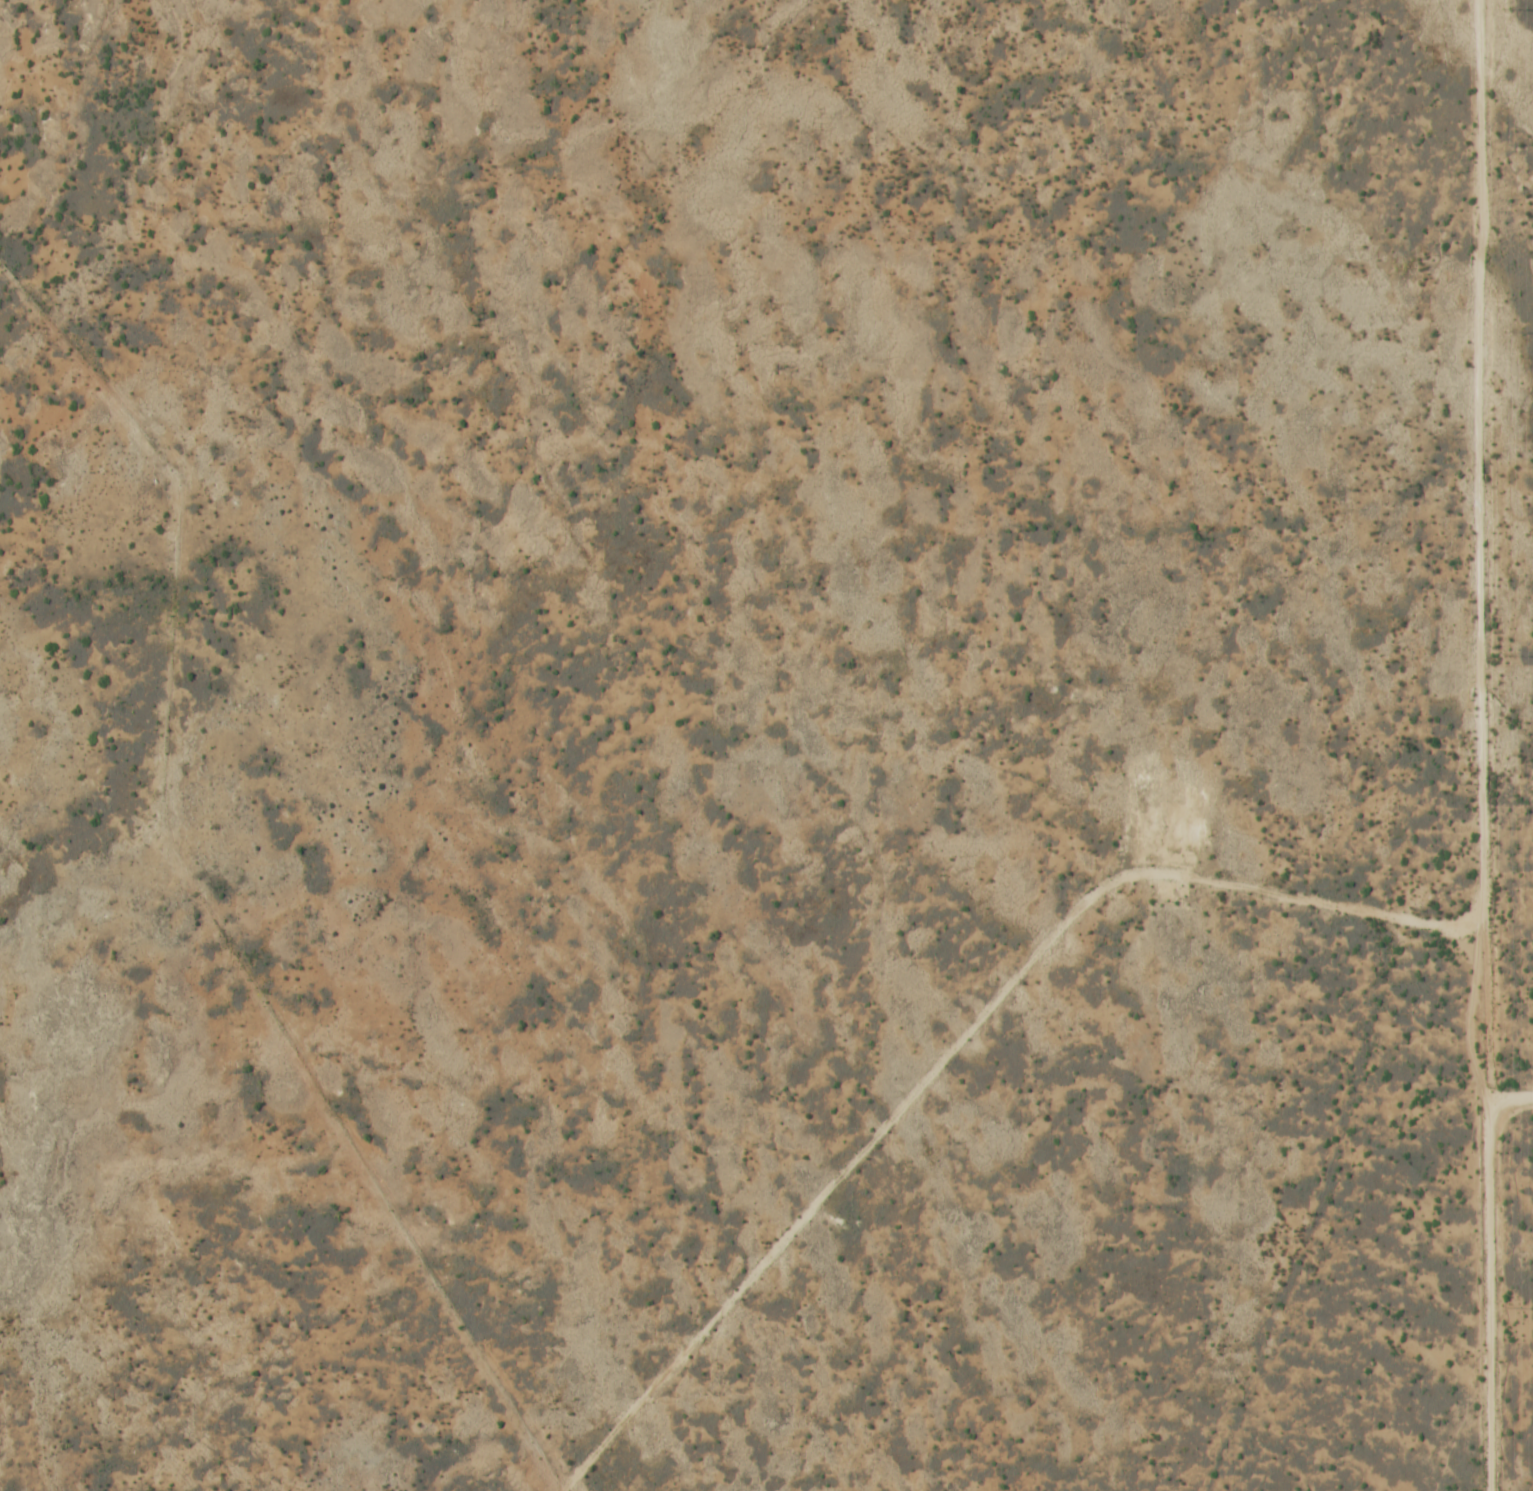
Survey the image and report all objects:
power tower: (1507, 9)
power tower: (1507, 332)
power tower: (1509, 655)
road: (1482, 745)
power tower: (1511, 981)
road: (966, 1049)
power tower: (1512, 1307)

